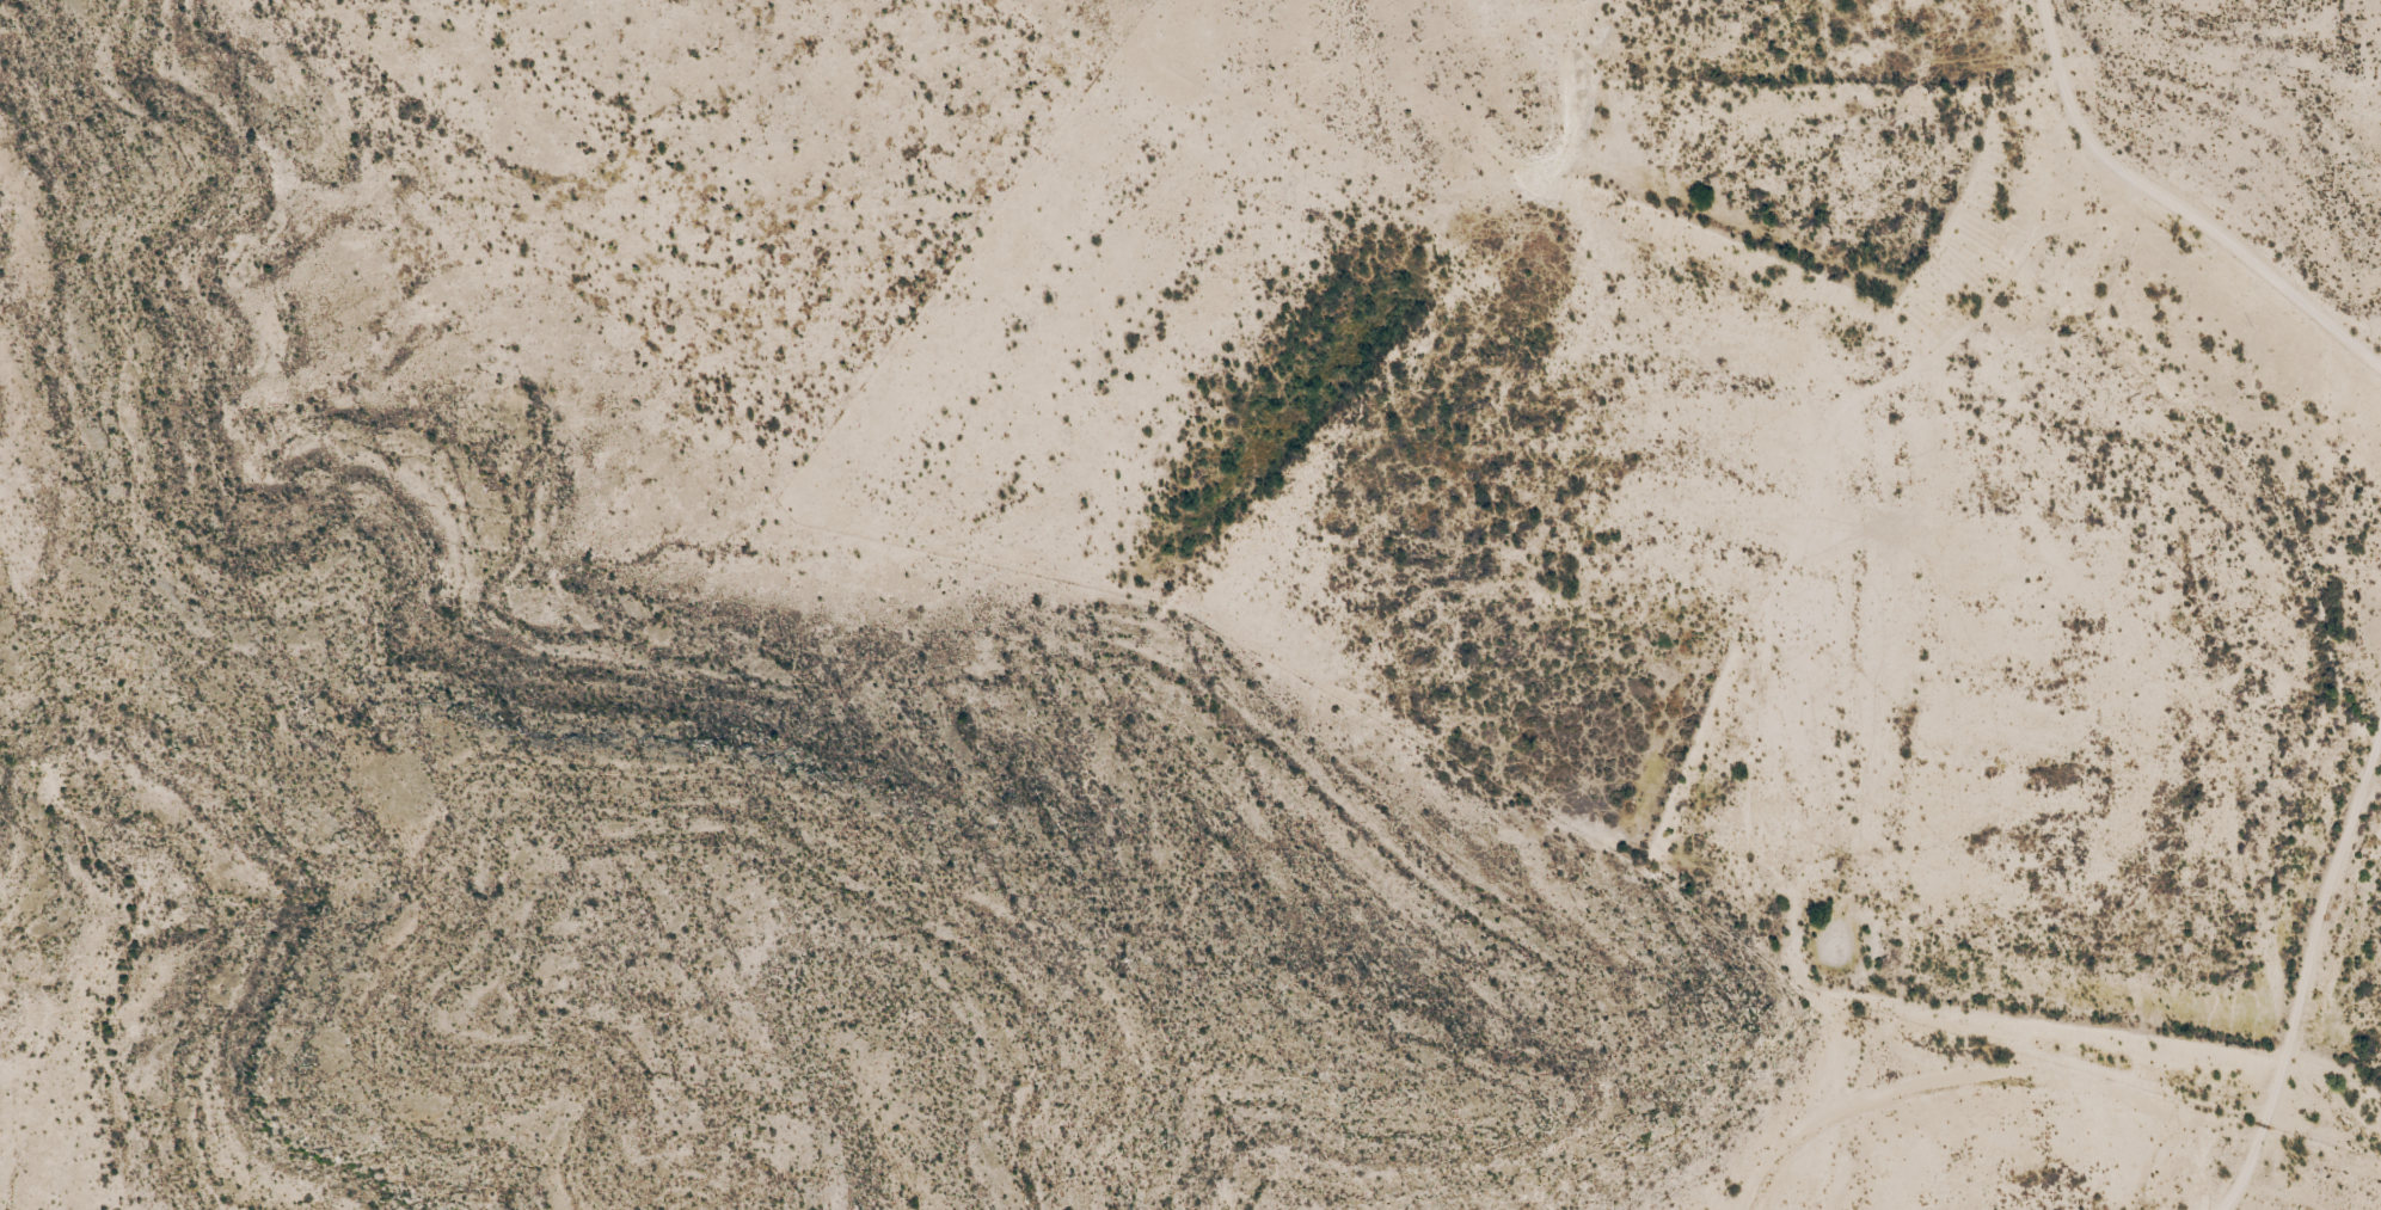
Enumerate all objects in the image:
road: (2204, 183)
road: (2159, 1069)
road: (2146, 1140)

